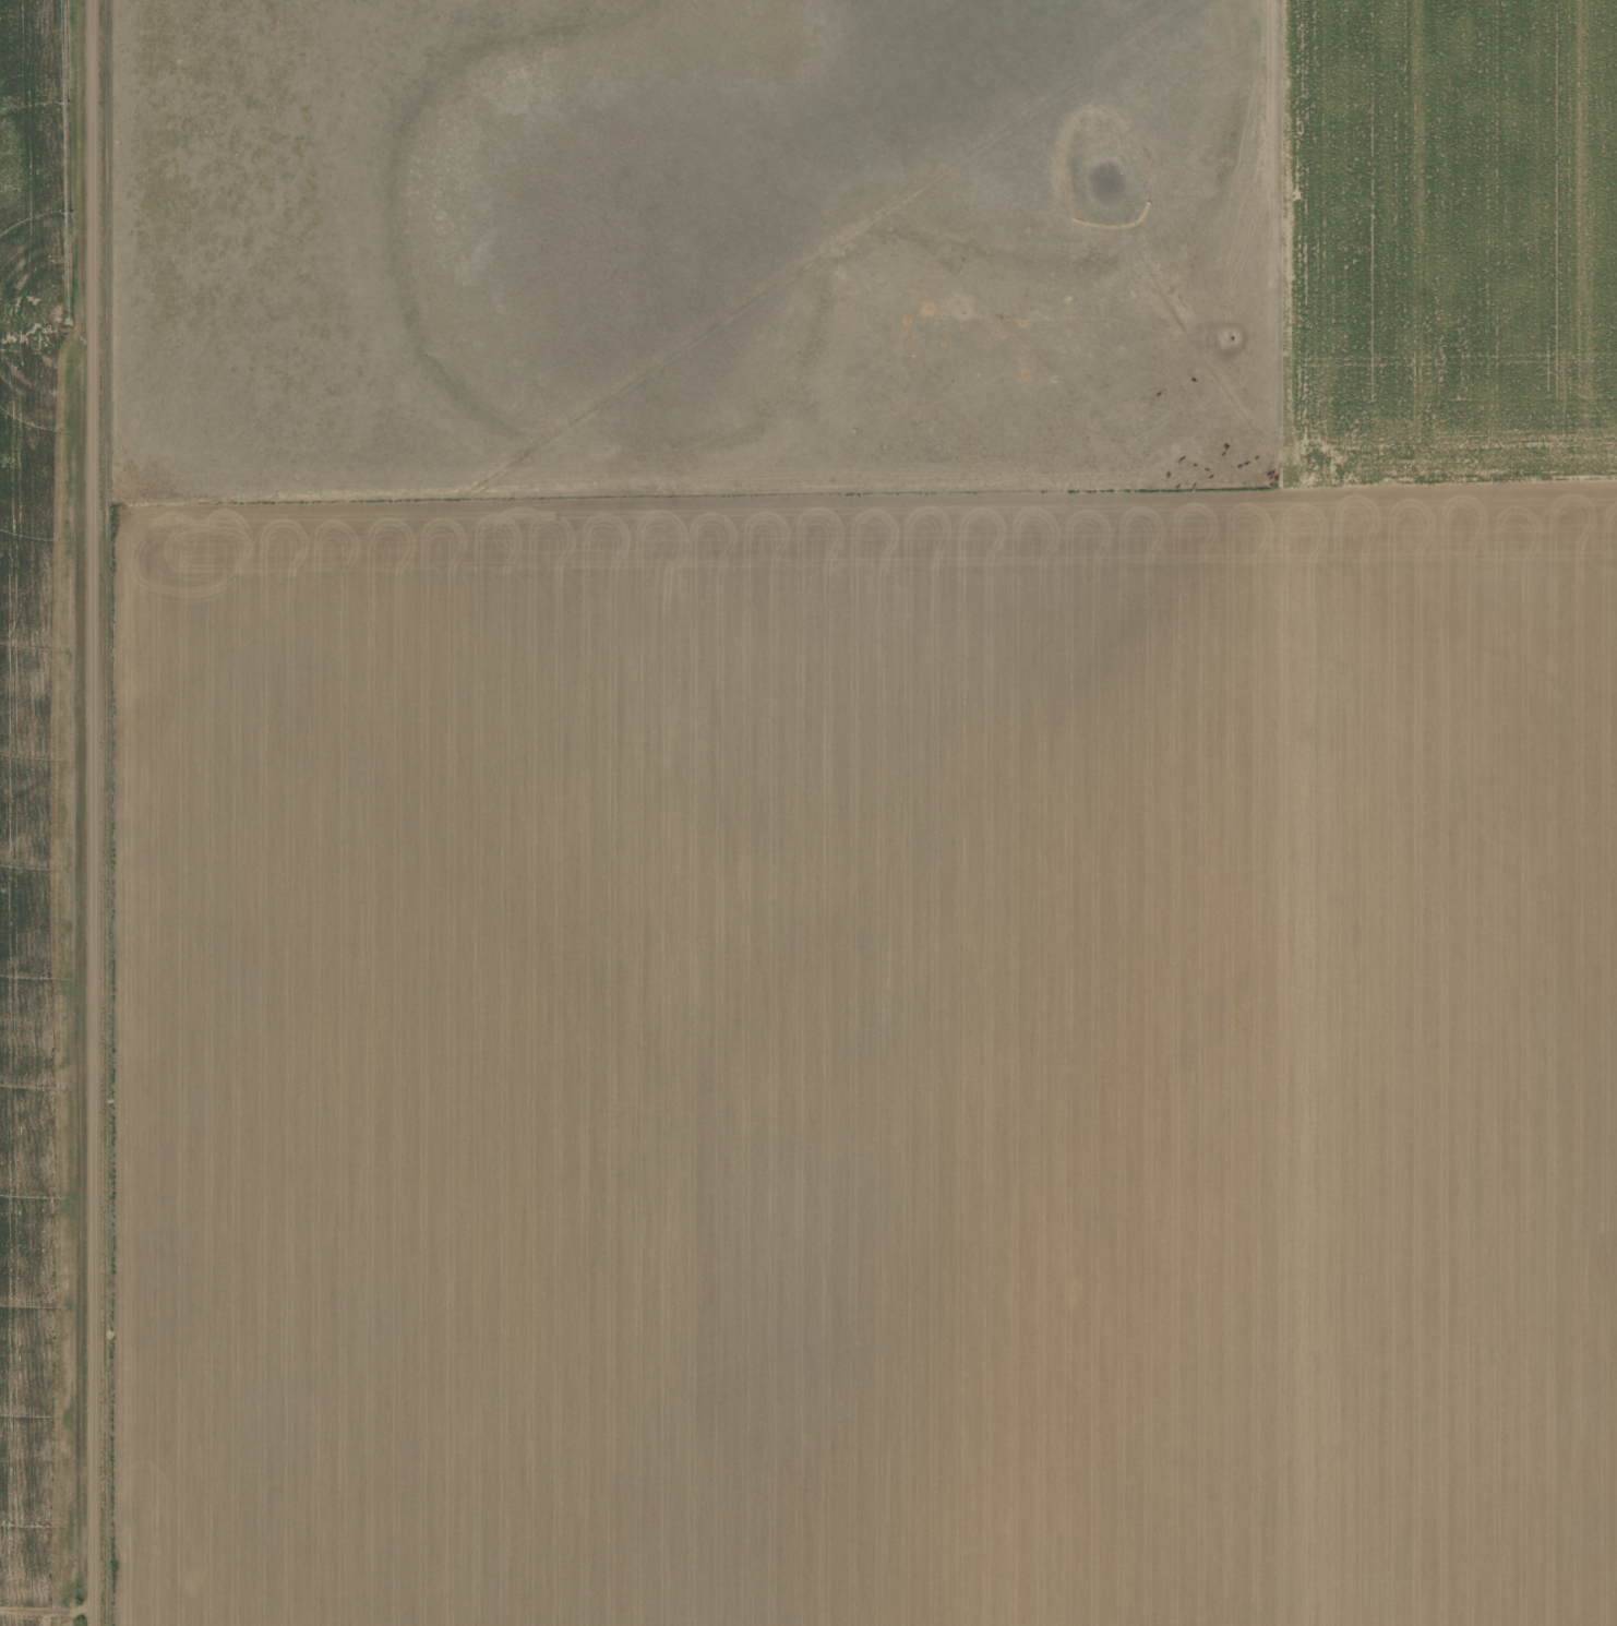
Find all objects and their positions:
road: (94, 813)

